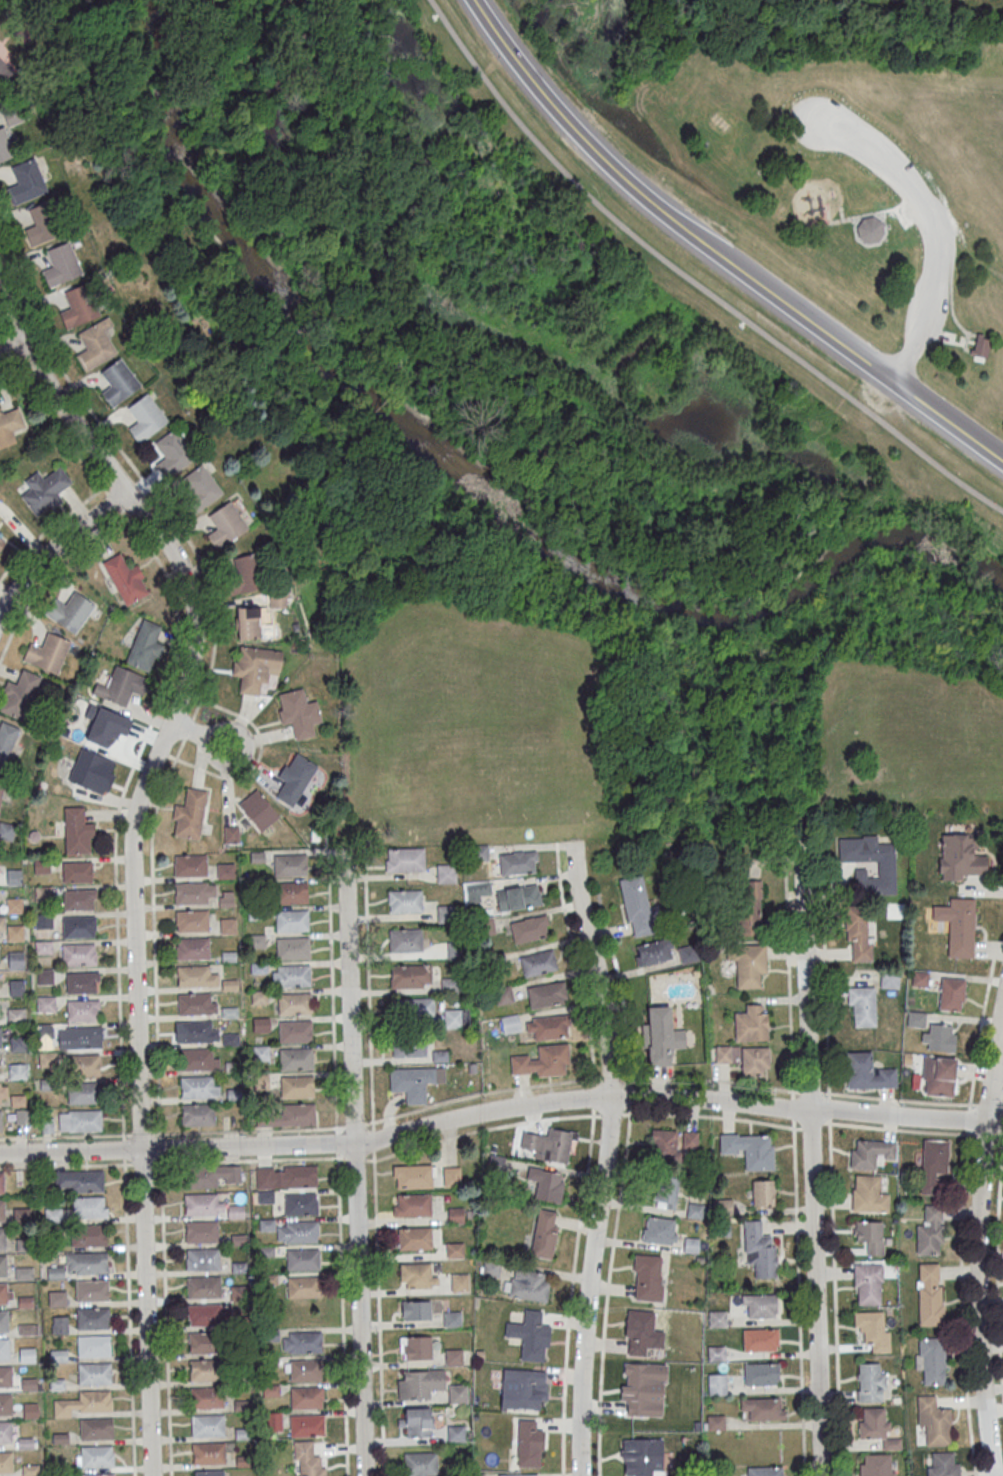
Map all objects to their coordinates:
river: (156, 0)
building: (4, 71)
building: (14, 115)
road: (856, 140)
building: (5, 146)
park: (845, 174)
road: (957, 177)
building: (27, 181)
road: (909, 207)
road: (864, 213)
parking lot: (921, 215)
building: (44, 224)
building: (868, 228)
road: (943, 250)
road: (714, 253)
building: (62, 264)
river: (258, 269)
road: (692, 281)
road: (950, 304)
building: (79, 305)
road: (14, 311)
road: (5, 316)
road: (983, 329)
road: (969, 332)
building: (978, 343)
road: (15, 346)
building: (95, 346)
road: (902, 355)
road: (395, 366)
road: (39, 371)
road: (17, 381)
building: (118, 382)
road: (989, 399)
building: (145, 417)
building: (11, 424)
park: (538, 427)
road: (964, 432)
building: (172, 453)
road: (947, 457)
road: (881, 478)
building: (200, 490)
building: (44, 491)
road: (920, 518)
building: (226, 525)
road: (54, 526)
road: (812, 530)
building: (1, 543)
road: (56, 546)
river: (843, 555)
river: (566, 564)
road: (55, 573)
building: (244, 574)
building: (126, 579)
building: (277, 600)
building: (69, 613)
building: (250, 621)
building: (145, 645)
building: (47, 654)
building: (254, 667)
building: (118, 686)
road: (187, 694)
building: (19, 695)
building: (298, 712)
building: (106, 727)
road: (199, 734)
building: (6, 741)
road: (163, 753)
road: (258, 759)
building: (93, 772)
building: (294, 778)
building: (1, 788)
building: (257, 810)
road: (155, 813)
building: (188, 815)
building: (77, 831)
building: (230, 834)
road: (131, 838)
road: (534, 848)
road: (305, 851)
building: (959, 857)
building: (405, 860)
road: (115, 863)
building: (517, 863)
building: (290, 865)
building: (886, 865)
building: (190, 866)
building: (225, 870)
building: (79, 872)
building: (445, 873)
building: (475, 891)
building: (42, 892)
building: (191, 893)
building: (291, 893)
building: (518, 897)
building: (79, 900)
building: (405, 902)
building: (13, 905)
building: (636, 905)
building: (749, 906)
building: (445, 913)
building: (192, 921)
building: (292, 921)
building: (2, 923)
building: (958, 925)
building: (227, 926)
building: (79, 927)
building: (529, 928)
building: (14, 933)
building: (858, 935)
building: (405, 940)
building: (293, 948)
building: (193, 949)
building: (652, 952)
building: (79, 955)
building: (15, 960)
building: (538, 963)
building: (747, 963)
road: (824, 967)
road: (789, 972)
building: (294, 976)
building: (406, 976)
building: (44, 977)
building: (194, 977)
building: (920, 978)
building: (889, 980)
building: (82, 982)
building: (16, 987)
road: (369, 988)
road: (333, 993)
building: (546, 994)
building: (951, 994)
building: (503, 995)
building: (46, 1004)
building: (194, 1004)
building: (294, 1004)
building: (861, 1006)
building: (409, 1009)
building: (82, 1011)
building: (16, 1015)
building: (456, 1018)
building: (510, 1023)
building: (751, 1023)
building: (260, 1025)
building: (546, 1027)
building: (195, 1031)
building: (296, 1032)
building: (661, 1036)
building: (82, 1037)
building: (938, 1037)
building: (0, 1039)
building: (17, 1044)
building: (409, 1046)
building: (261, 1053)
building: (722, 1054)
building: (297, 1059)
building: (46, 1060)
building: (196, 1060)
building: (542, 1061)
building: (755, 1061)
building: (84, 1066)
building: (17, 1072)
building: (867, 1072)
building: (938, 1076)
road: (612, 1077)
road: (711, 1081)
building: (412, 1083)
road: (997, 1086)
building: (197, 1087)
building: (297, 1087)
building: (85, 1093)
road: (811, 1093)
building: (0, 1095)
road: (899, 1100)
building: (18, 1101)
road: (828, 1107)
road: (990, 1107)
road: (500, 1109)
road: (793, 1109)
road: (611, 1114)
building: (198, 1115)
building: (298, 1115)
road: (711, 1116)
building: (0, 1121)
building: (86, 1121)
road: (813, 1125)
road: (303, 1130)
road: (482, 1131)
road: (900, 1131)
road: (987, 1135)
road: (1000, 1135)
road: (373, 1140)
building: (689, 1140)
road: (338, 1143)
building: (549, 1144)
building: (663, 1145)
building: (749, 1149)
building: (870, 1153)
road: (812, 1155)
road: (354, 1158)
road: (608, 1158)
road: (589, 1159)
building: (496, 1160)
road: (171, 1163)
road: (354, 1163)
building: (934, 1166)
building: (300, 1176)
building: (200, 1177)
building: (265, 1177)
building: (413, 1177)
building: (452, 1177)
road: (623, 1178)
building: (81, 1181)
building: (2, 1183)
building: (546, 1184)
building: (664, 1191)
building: (762, 1192)
building: (868, 1194)
building: (265, 1197)
building: (201, 1205)
building: (301, 1205)
building: (412, 1206)
building: (90, 1207)
building: (694, 1209)
building: (2, 1211)
building: (235, 1212)
road: (963, 1212)
building: (53, 1215)
building: (267, 1225)
building: (659, 1230)
building: (202, 1232)
building: (302, 1232)
building: (929, 1232)
building: (544, 1235)
road: (976, 1235)
building: (89, 1236)
building: (868, 1236)
building: (3, 1239)
building: (414, 1239)
building: (691, 1245)
building: (454, 1250)
building: (759, 1250)
building: (203, 1260)
building: (303, 1260)
building: (88, 1263)
building: (3, 1266)
road: (998, 1266)
building: (489, 1268)
building: (56, 1273)
building: (416, 1275)
building: (648, 1278)
building: (460, 1284)
building: (867, 1284)
building: (528, 1285)
building: (203, 1287)
building: (304, 1287)
building: (93, 1292)
building: (4, 1294)
building: (929, 1294)
building: (239, 1295)
road: (835, 1296)
road: (799, 1297)
building: (58, 1299)
building: (764, 1307)
building: (415, 1310)
road: (379, 1313)
road: (343, 1314)
building: (204, 1315)
building: (94, 1319)
building: (716, 1319)
building: (452, 1320)
building: (4, 1322)
building: (59, 1324)
building: (874, 1330)
building: (639, 1331)
building: (271, 1335)
building: (531, 1336)
building: (759, 1340)
building: (205, 1343)
building: (305, 1343)
building: (93, 1346)
building: (415, 1348)
building: (5, 1349)
building: (715, 1353)
building: (27, 1355)
building: (454, 1357)
building: (931, 1360)
building: (206, 1370)
building: (306, 1371)
building: (94, 1374)
building: (761, 1375)
building: (5, 1377)
building: (238, 1378)
building: (870, 1382)
building: (418, 1383)
building: (28, 1384)
building: (716, 1384)
building: (523, 1388)
building: (642, 1389)
building: (271, 1391)
building: (456, 1396)
building: (207, 1398)
building: (307, 1398)
building: (84, 1404)
building: (6, 1405)
building: (242, 1406)
building: (30, 1410)
building: (765, 1410)
building: (933, 1420)
building: (273, 1421)
building: (415, 1421)
building: (714, 1422)
building: (872, 1424)
building: (208, 1426)
building: (307, 1426)
building: (96, 1429)
building: (6, 1433)
building: (242, 1434)
building: (456, 1434)
building: (529, 1444)
building: (208, 1453)
building: (643, 1454)
building: (98, 1458)
building: (308, 1460)
building: (244, 1462)
building: (7, 1463)
building: (942, 1463)
building: (421, 1465)
building: (876, 1465)
building: (764, 1471)
building: (209, 1474)
building: (99, 1475)
building: (525, 1475)

